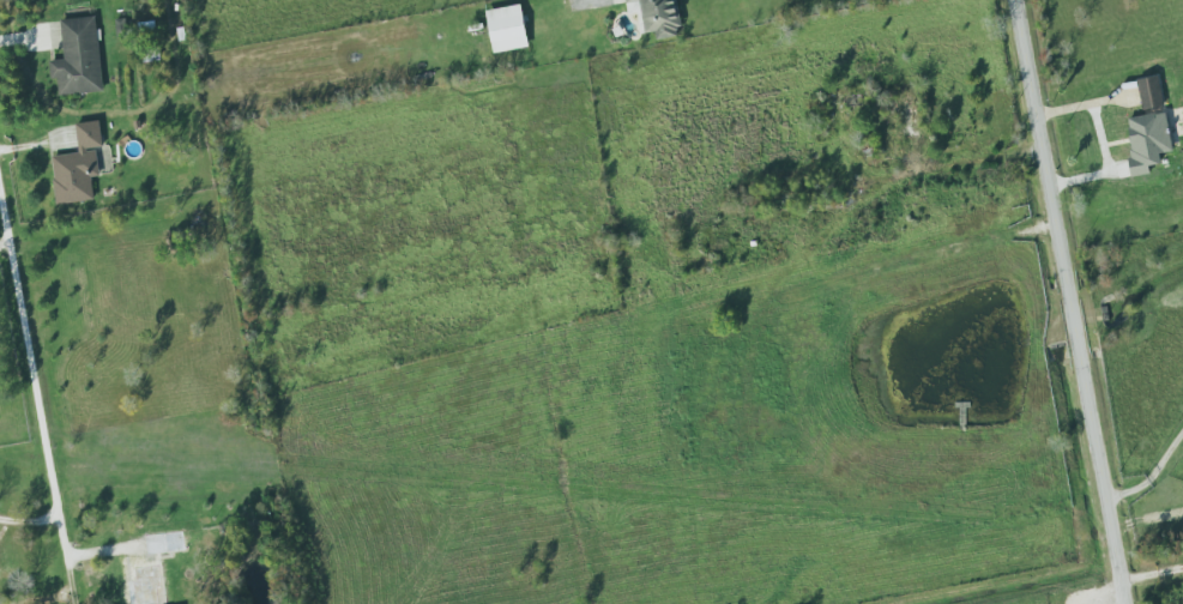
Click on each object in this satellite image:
building: (659, 17)
building: (505, 29)
building: (77, 58)
building: (1148, 92)
building: (1146, 140)
road: (961, 163)
building: (76, 167)
road: (4, 247)
road: (1067, 302)
road: (32, 386)
road: (1151, 483)
building: (152, 568)
road: (1149, 574)

